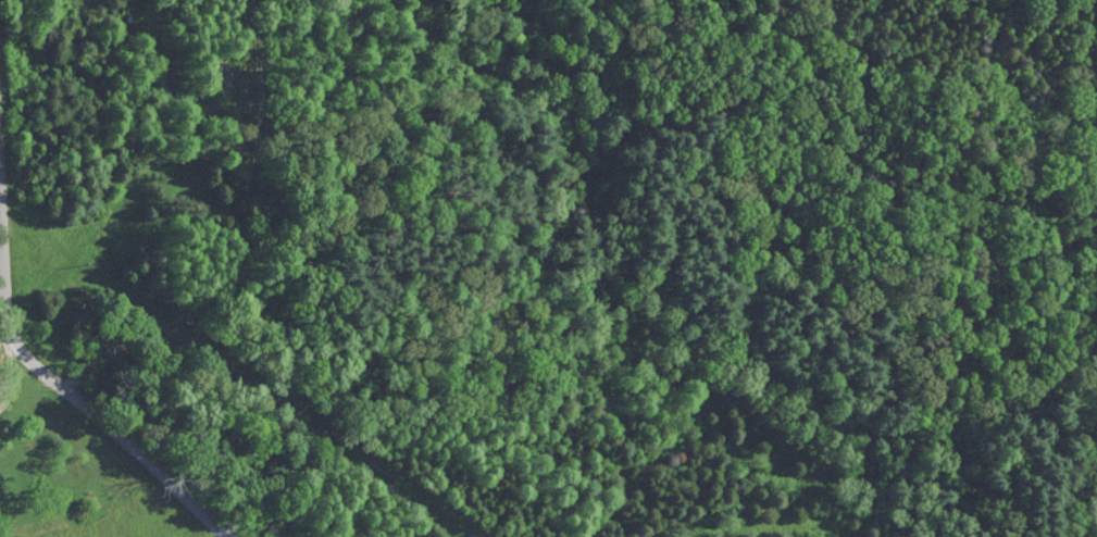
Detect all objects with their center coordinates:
road: (241, 242)
road: (64, 392)

